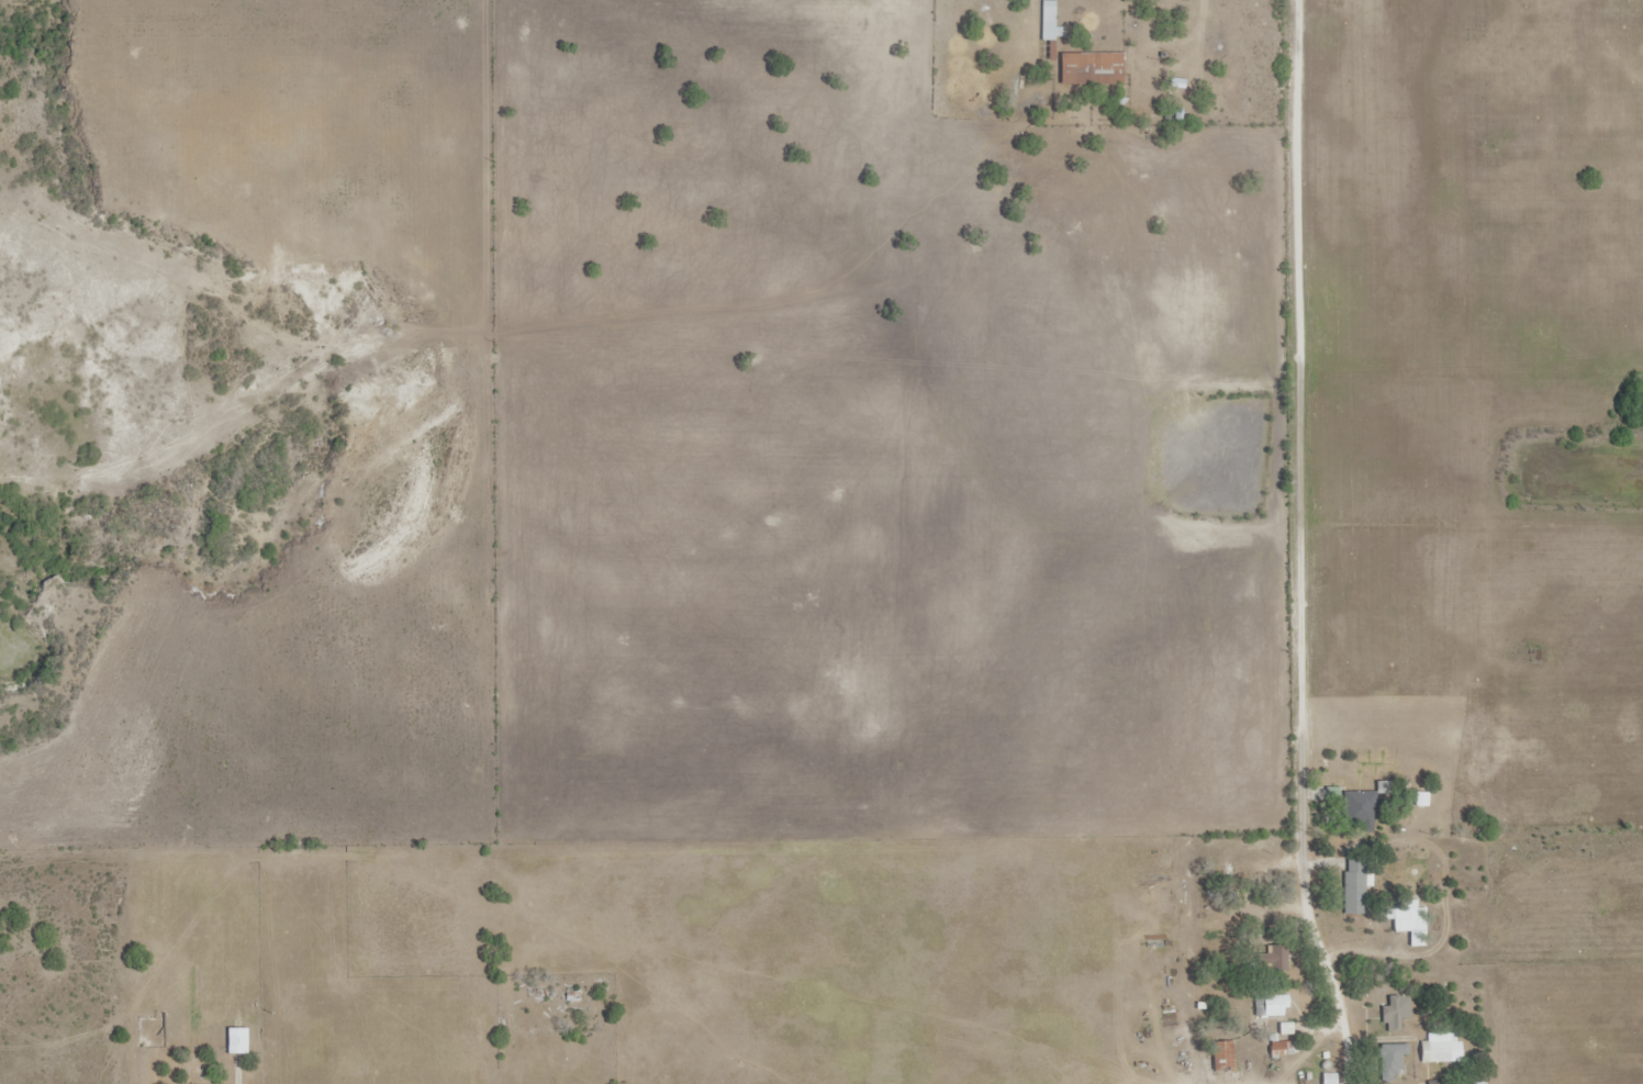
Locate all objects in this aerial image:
road: (1298, 545)
building: (1420, 798)
building: (1408, 919)
building: (1273, 1005)
building: (236, 1040)
building: (1439, 1049)
building: (1389, 1060)
building: (1477, 1083)

